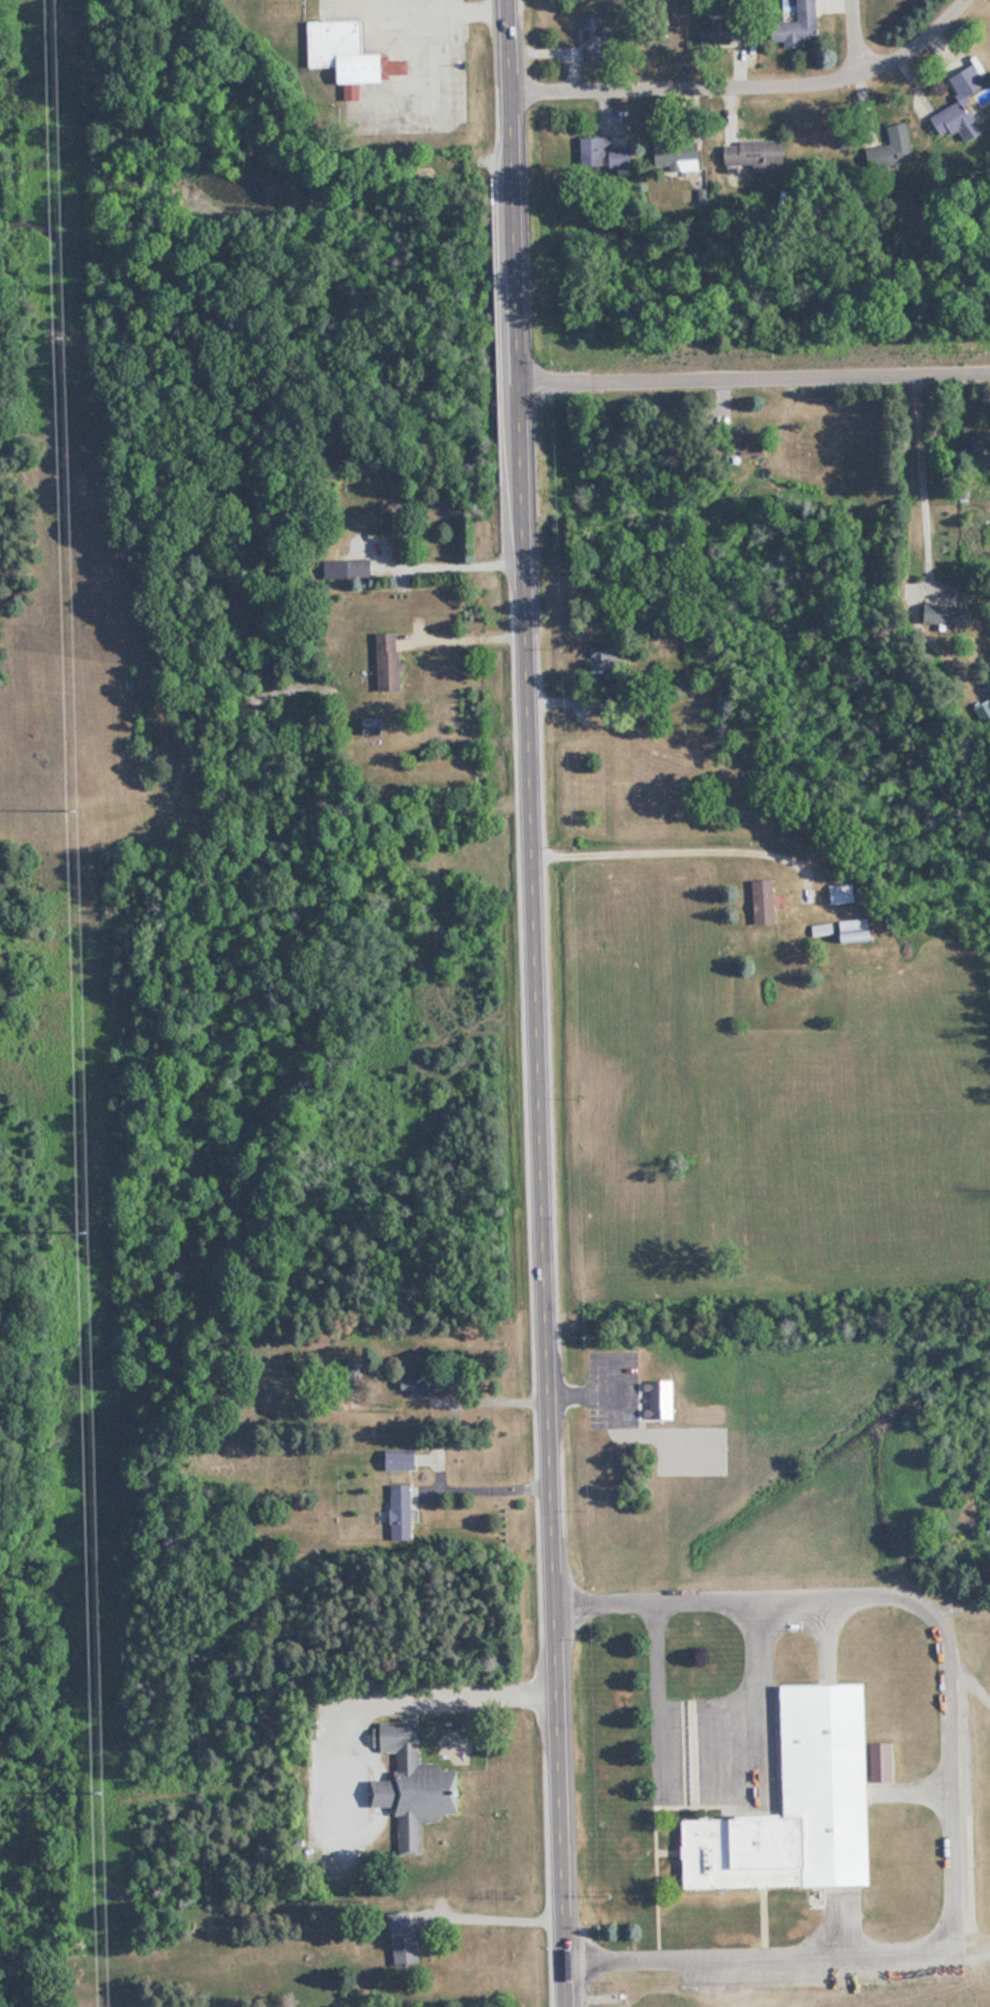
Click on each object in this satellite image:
building: (800, 22)
building: (725, 31)
building: (595, 38)
road: (855, 39)
building: (350, 53)
road: (757, 89)
building: (964, 106)
building: (892, 151)
building: (756, 153)
building: (605, 155)
power tower: (58, 339)
road: (756, 379)
building: (976, 441)
building: (752, 442)
road: (915, 481)
building: (399, 535)
road: (461, 561)
building: (349, 568)
building: (947, 614)
road: (469, 637)
building: (390, 661)
road: (557, 701)
building: (723, 707)
building: (373, 726)
power tower: (72, 805)
road: (671, 848)
building: (843, 893)
building: (765, 901)
building: (823, 929)
building: (857, 930)
road: (539, 1003)
power tower: (83, 1234)
building: (355, 1369)
building: (423, 1385)
road: (502, 1400)
building: (401, 1459)
road: (489, 1488)
building: (402, 1512)
road: (917, 1603)
road: (759, 1690)
road: (657, 1694)
road: (451, 1701)
building: (886, 1762)
building: (414, 1784)
power tower: (96, 1795)
building: (801, 1805)
road: (499, 1916)
building: (404, 1938)
road: (776, 1961)
park: (788, 1998)

